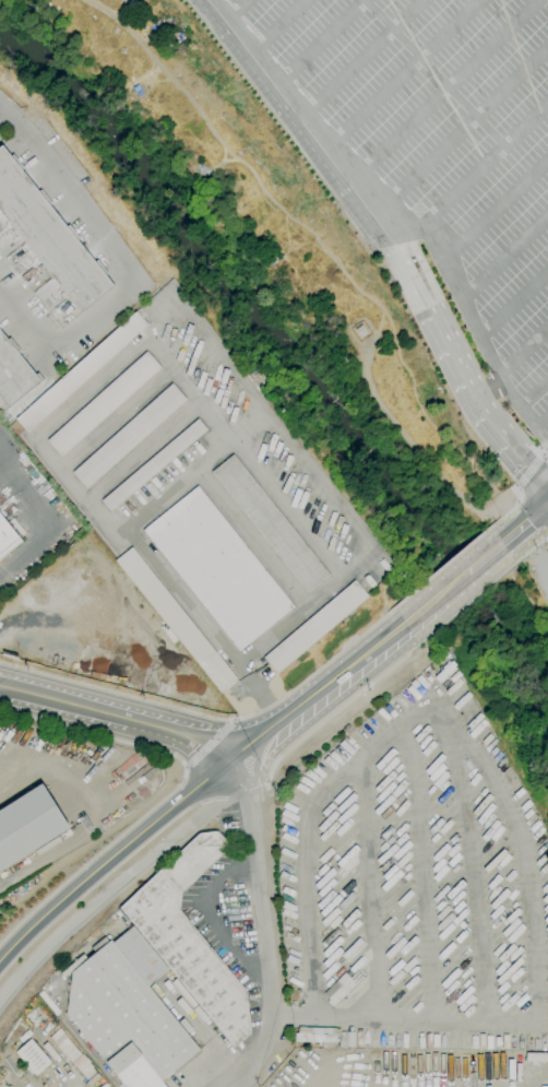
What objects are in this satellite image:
road: (235, 11)
road: (278, 27)
road: (320, 44)
road: (360, 60)
road: (432, 74)
road: (398, 76)
road: (441, 91)
road: (1, 109)
road: (294, 113)
road: (458, 130)
road: (476, 174)
parking lot: (431, 175)
road: (497, 209)
building: (49, 237)
road: (505, 255)
road: (122, 269)
road: (514, 302)
road: (439, 312)
road: (424, 322)
road: (477, 329)
building: (360, 331)
road: (523, 348)
river: (289, 363)
road: (118, 369)
building: (81, 371)
building: (13, 374)
road: (533, 393)
building: (103, 404)
road: (242, 418)
road: (269, 420)
road: (119, 421)
road: (543, 426)
building: (129, 436)
road: (412, 442)
road: (546, 451)
road: (144, 452)
road: (514, 452)
road: (546, 457)
building: (153, 465)
road: (529, 472)
road: (179, 484)
road: (508, 510)
road: (524, 521)
road: (45, 523)
building: (270, 523)
building: (5, 535)
road: (534, 535)
road: (251, 537)
road: (529, 551)
road: (483, 557)
road: (442, 566)
building: (217, 568)
road: (433, 596)
road: (461, 598)
road: (464, 604)
building: (176, 619)
building: (314, 627)
road: (389, 633)
road: (350, 663)
road: (334, 702)
road: (334, 711)
road: (116, 714)
road: (213, 717)
road: (275, 723)
road: (210, 744)
road: (111, 756)
road: (265, 771)
road: (239, 788)
road: (170, 794)
road: (98, 814)
road: (511, 814)
building: (27, 825)
road: (109, 859)
road: (470, 860)
road: (419, 871)
road: (310, 874)
road: (104, 895)
road: (258, 896)
road: (106, 905)
building: (189, 936)
building: (337, 989)
building: (127, 1013)
building: (321, 1037)
building: (32, 1058)
road: (243, 1063)
road: (231, 1082)

